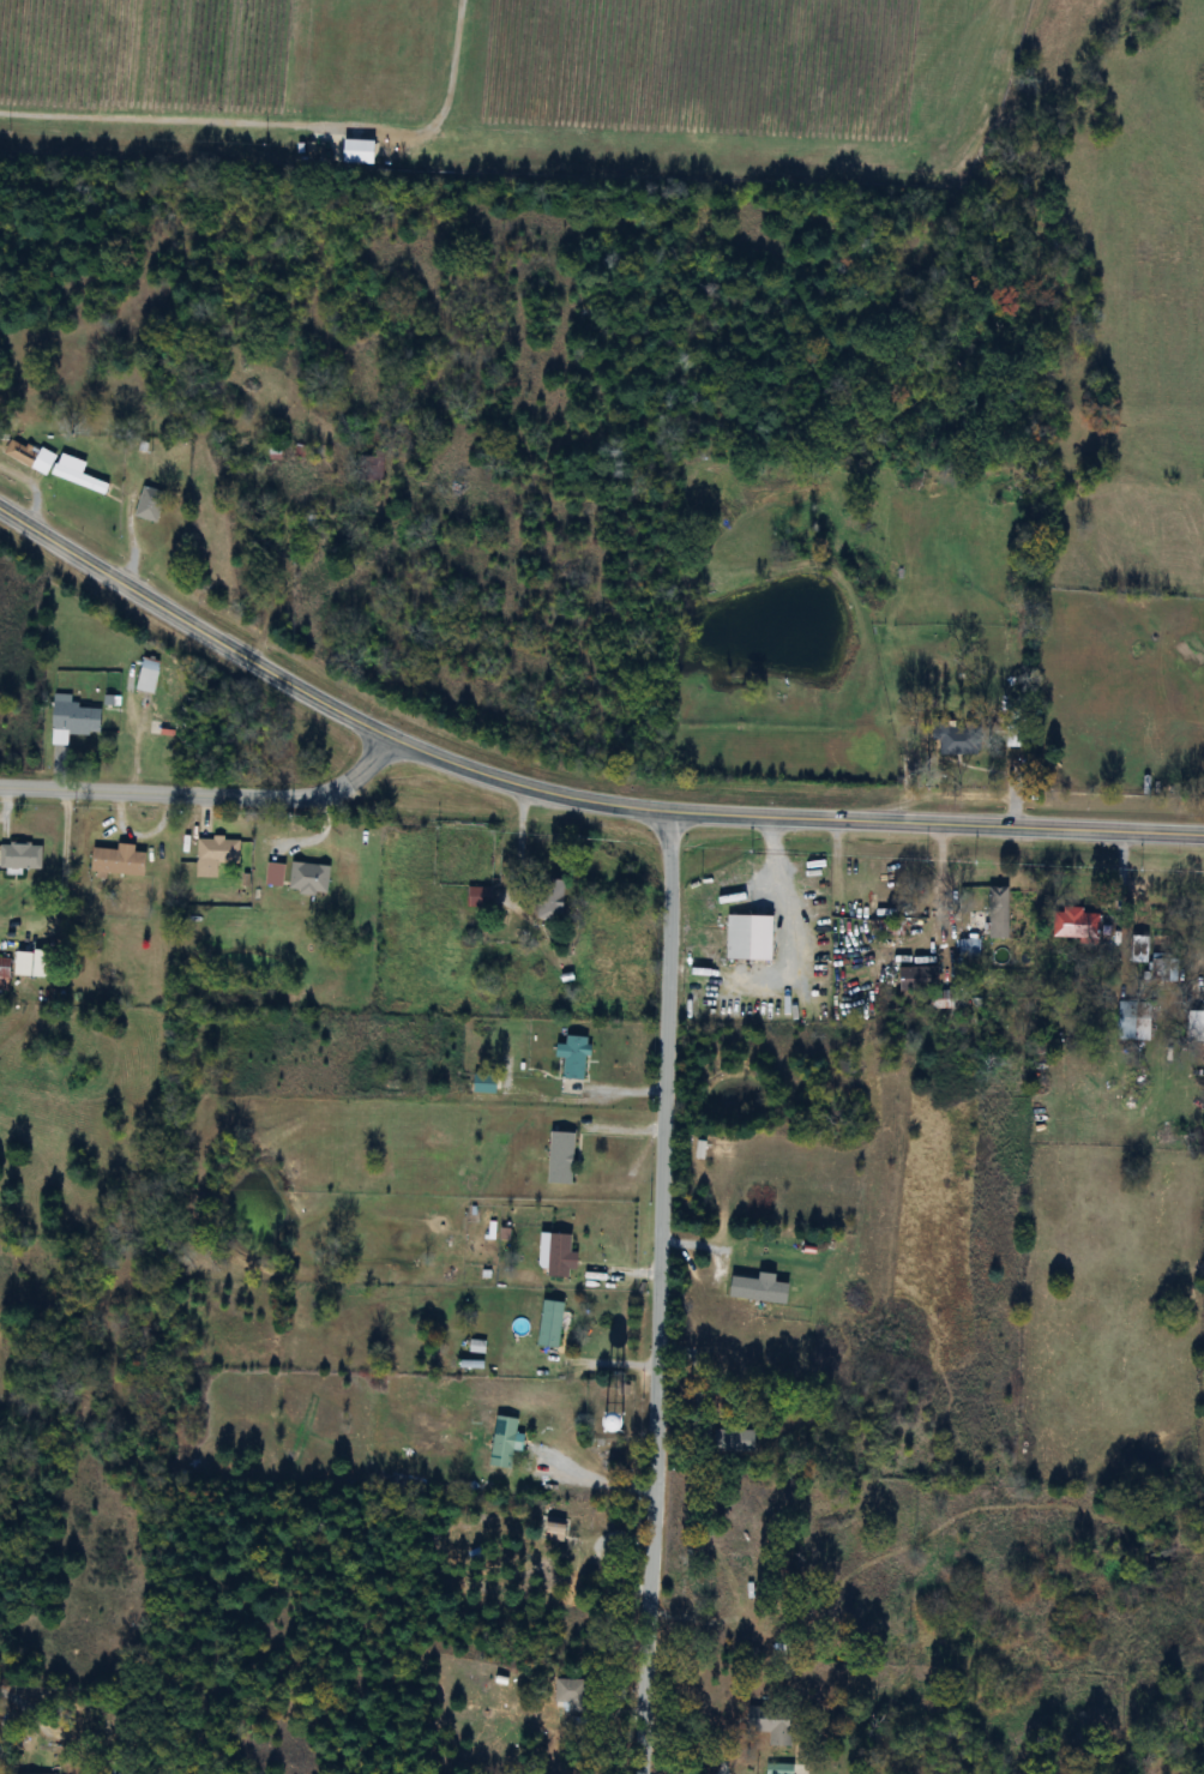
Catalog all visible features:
building: (359, 152)
building: (270, 451)
building: (22, 453)
building: (374, 468)
building: (78, 475)
building: (150, 505)
building: (149, 676)
building: (73, 721)
building: (950, 740)
road: (565, 796)
road: (204, 798)
building: (218, 852)
building: (20, 858)
building: (119, 862)
building: (480, 898)
building: (552, 901)
building: (999, 907)
building: (1074, 926)
building: (750, 939)
building: (1139, 950)
building: (969, 951)
building: (1164, 968)
building: (5, 974)
building: (916, 980)
building: (1134, 1023)
building: (1196, 1029)
building: (574, 1058)
building: (484, 1084)
building: (561, 1159)
building: (558, 1257)
road: (662, 1295)
building: (550, 1325)
building: (734, 1442)
building: (506, 1444)
road: (597, 1475)
building: (889, 1497)
building: (722, 1571)
building: (571, 1694)
building: (772, 1725)
building: (779, 1769)

